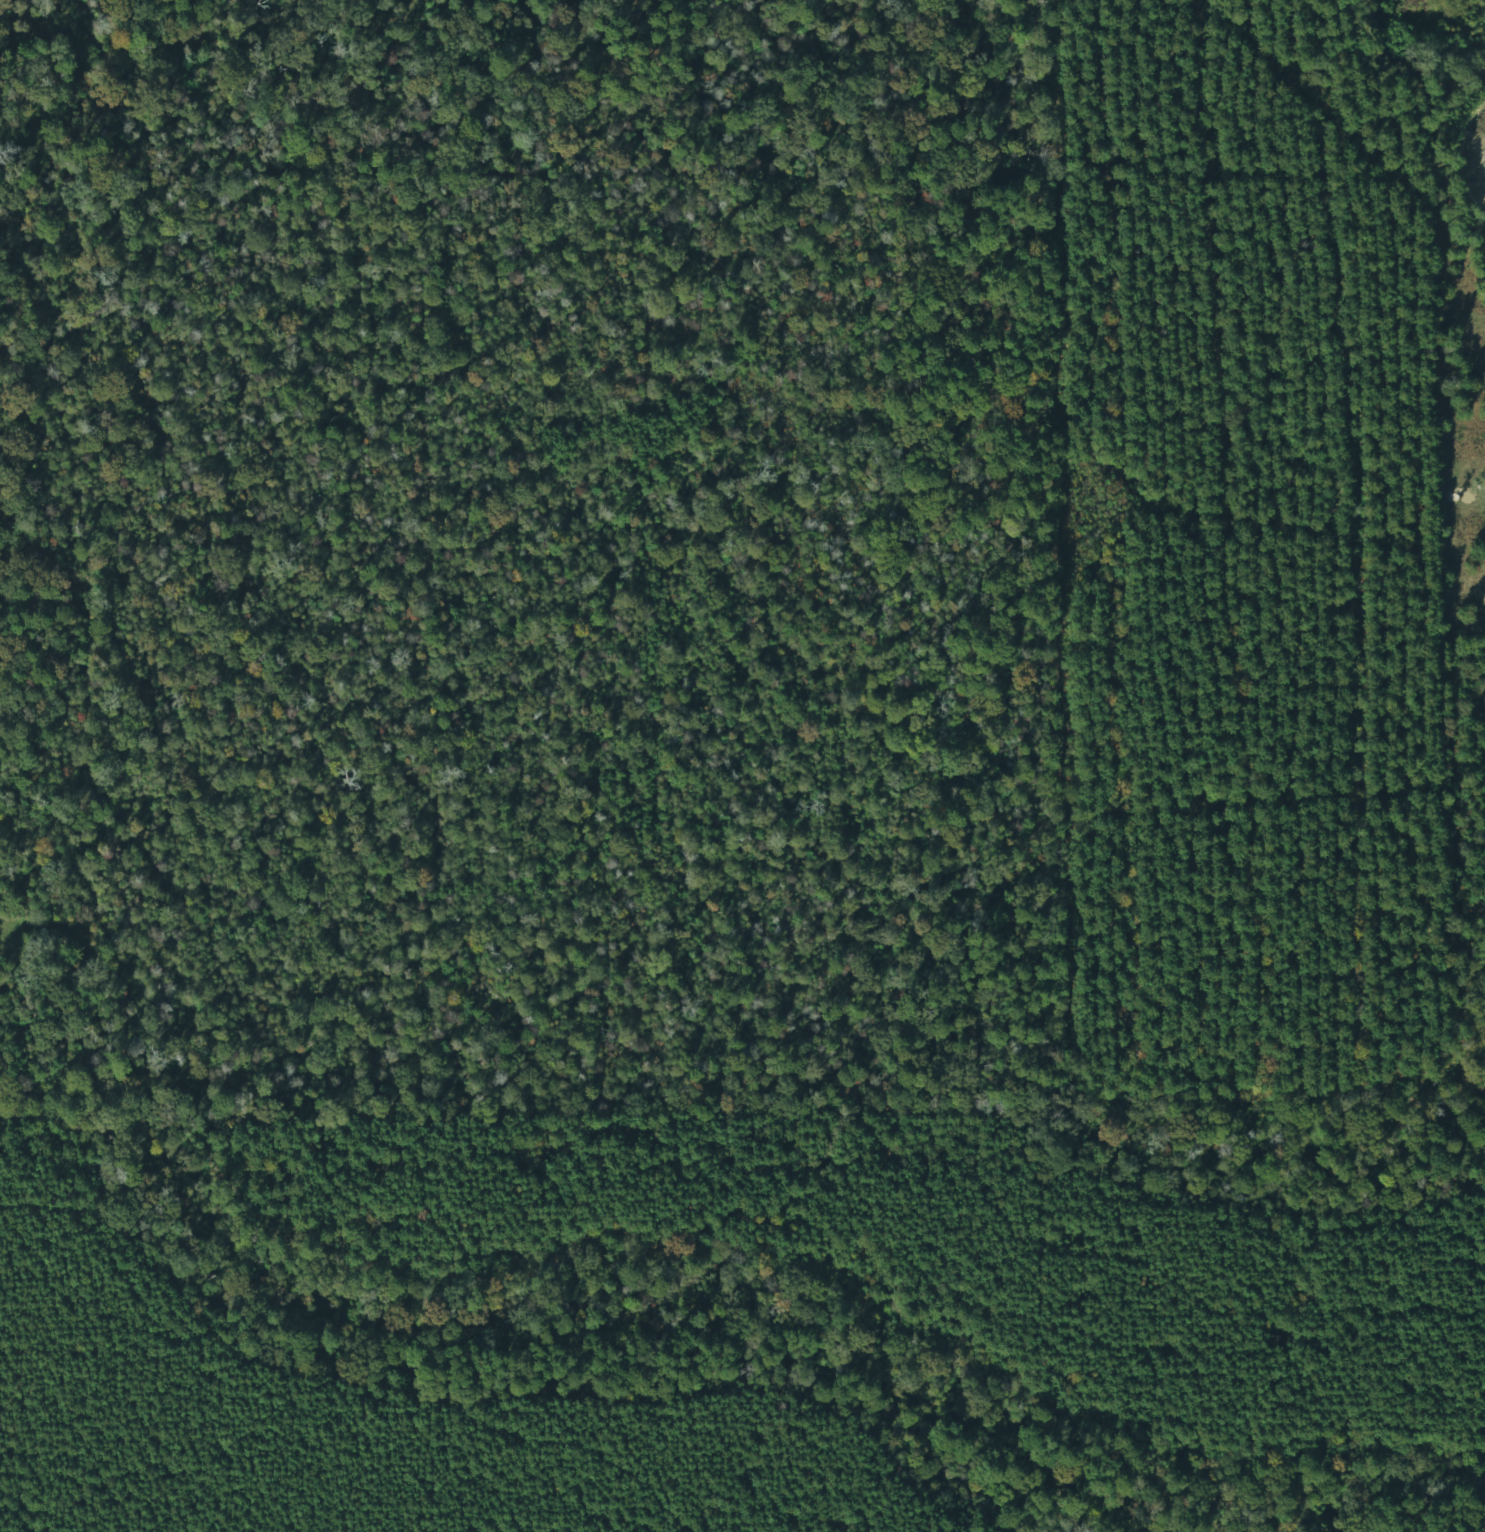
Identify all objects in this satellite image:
building: (1424, 21)

